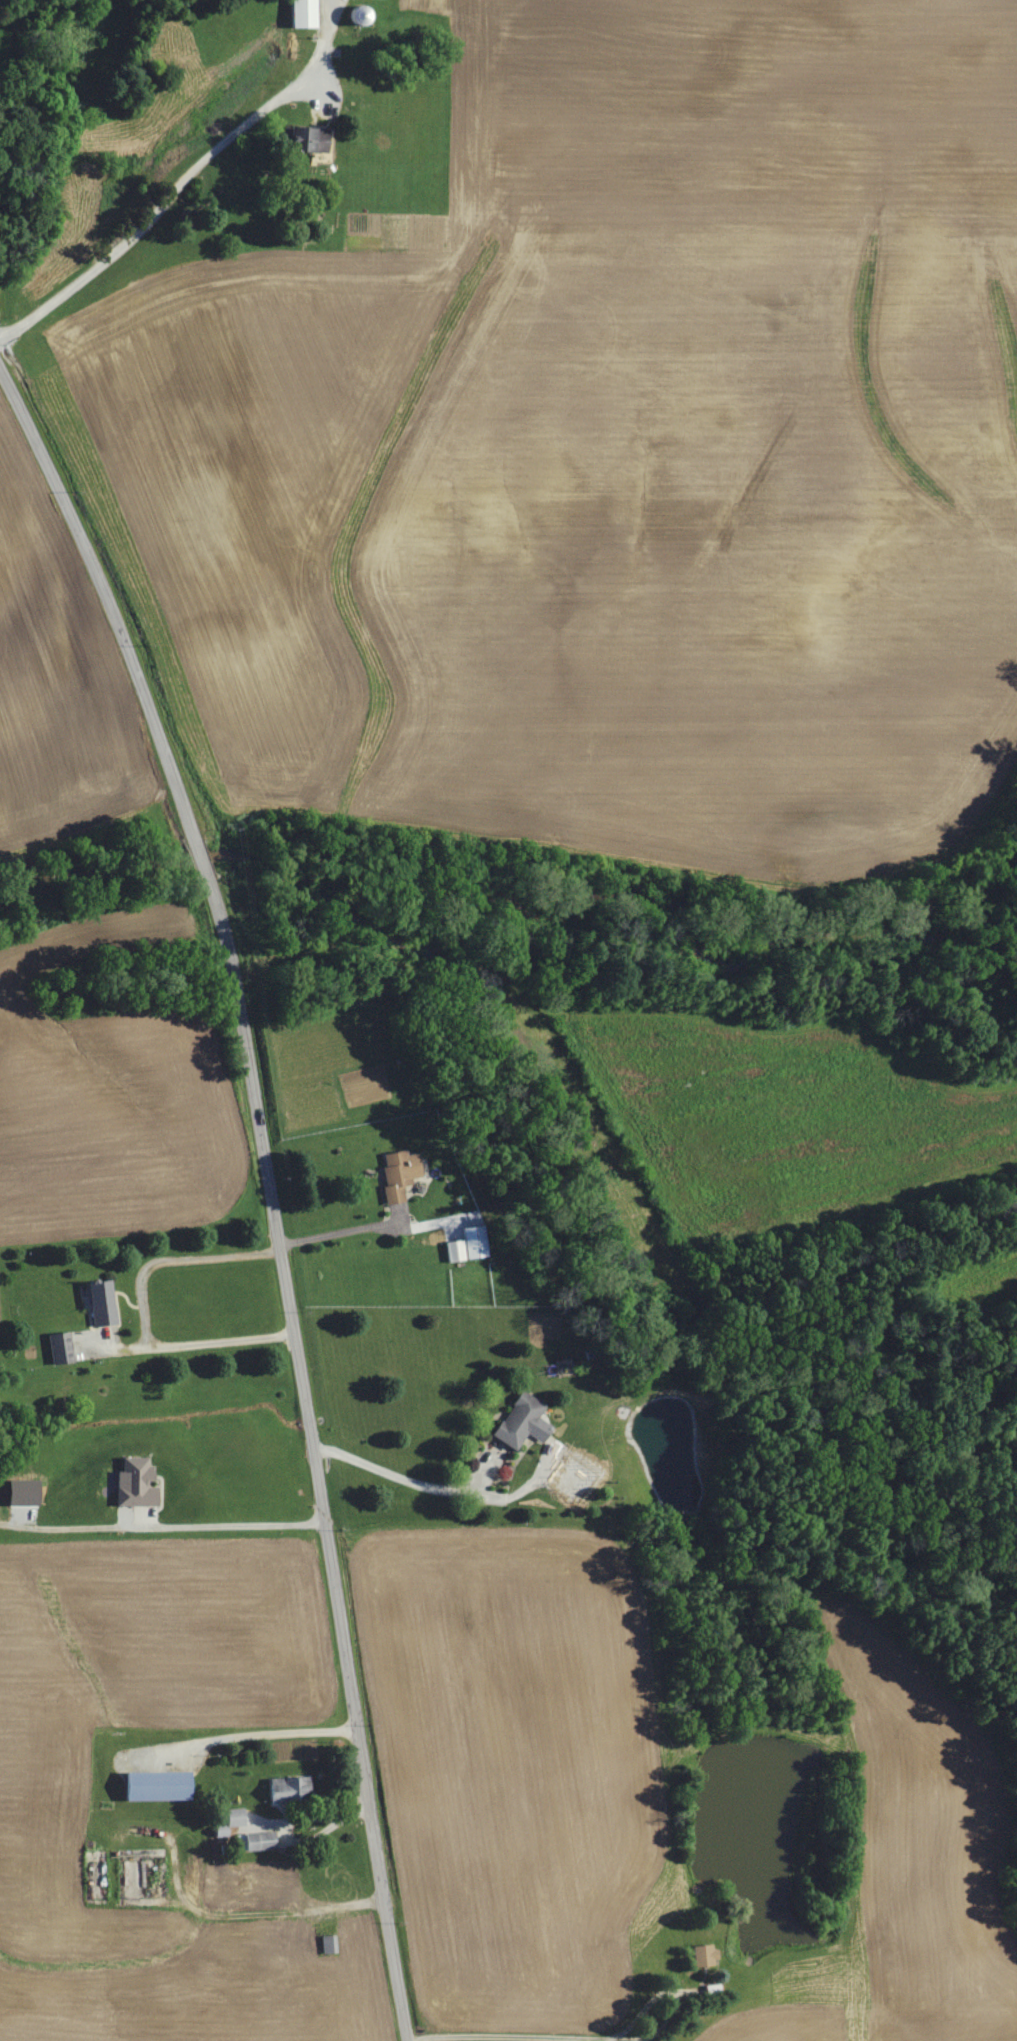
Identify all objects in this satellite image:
building: (300, 14)
building: (304, 139)
road: (164, 199)
building: (396, 1174)
road: (266, 1189)
road: (337, 1234)
building: (98, 1305)
road: (140, 1311)
building: (57, 1349)
building: (519, 1423)
building: (566, 1472)
building: (588, 1482)
building: (132, 1484)
road: (437, 1491)
building: (19, 1494)
road: (229, 1526)
road: (268, 1734)
building: (153, 1786)
building: (287, 1788)
building: (232, 1817)
building: (254, 1841)
building: (327, 1944)
building: (701, 1955)

